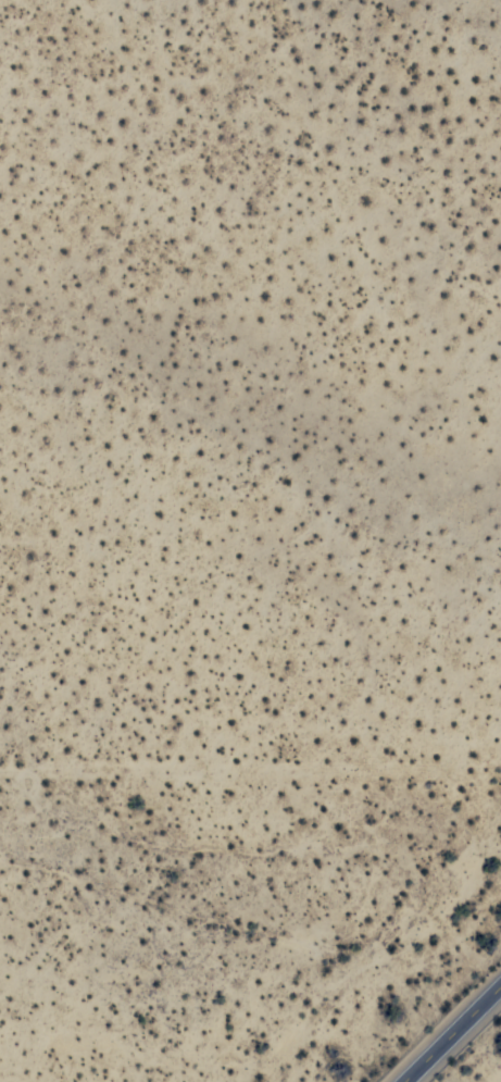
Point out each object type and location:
road: (250, 770)
road: (453, 1035)

